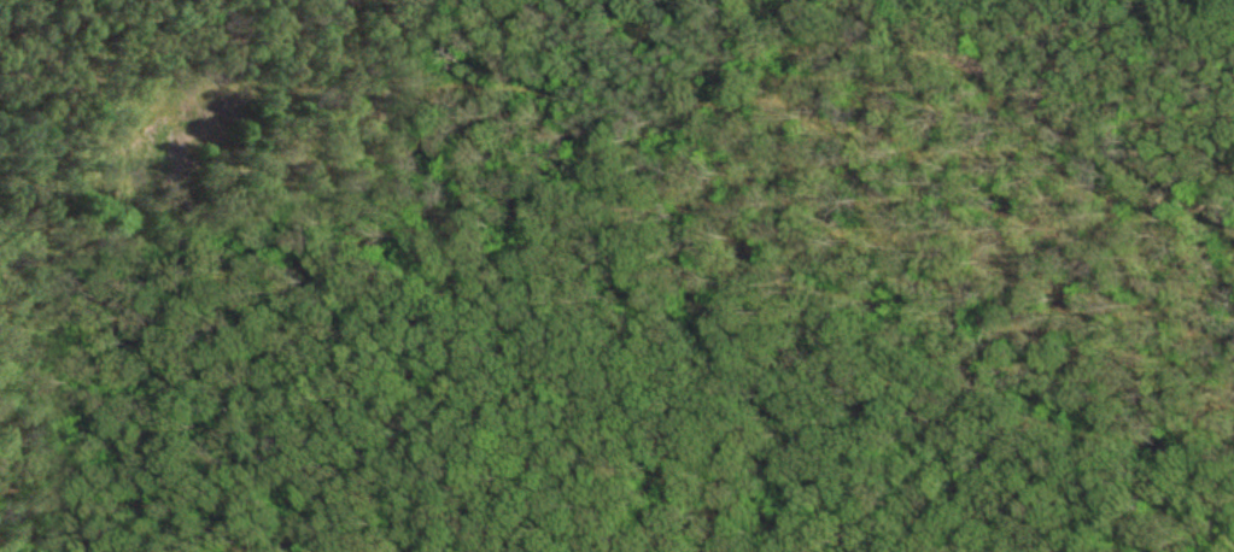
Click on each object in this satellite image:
road: (1086, 80)

